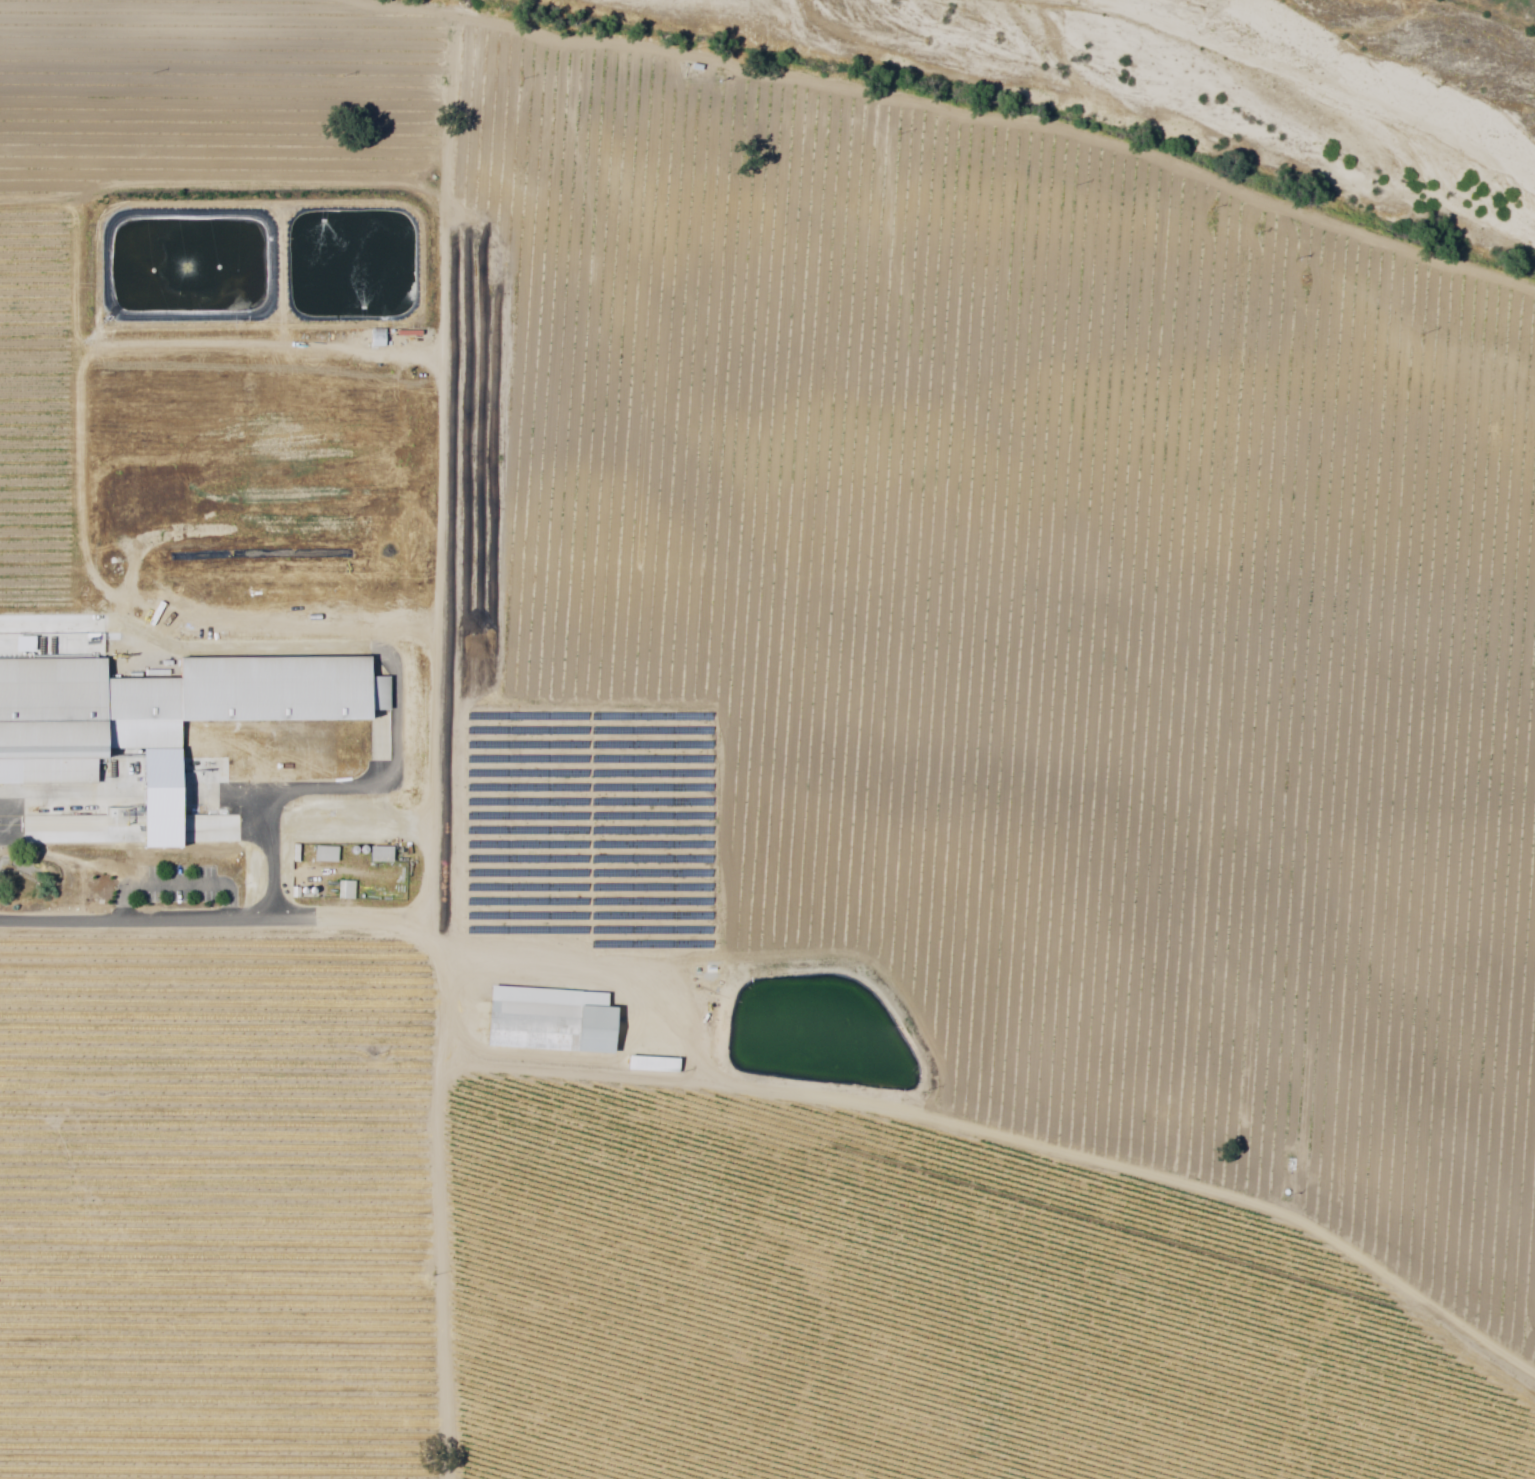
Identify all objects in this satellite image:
river: (1362, 80)
crop: (214, 99)
crop: (154, 434)
crop: (1007, 623)
building: (162, 708)
building: (320, 856)
building: (376, 856)
road: (279, 876)
building: (339, 892)
building: (551, 1020)
building: (666, 1065)
crop: (220, 1205)
crop: (911, 1309)

